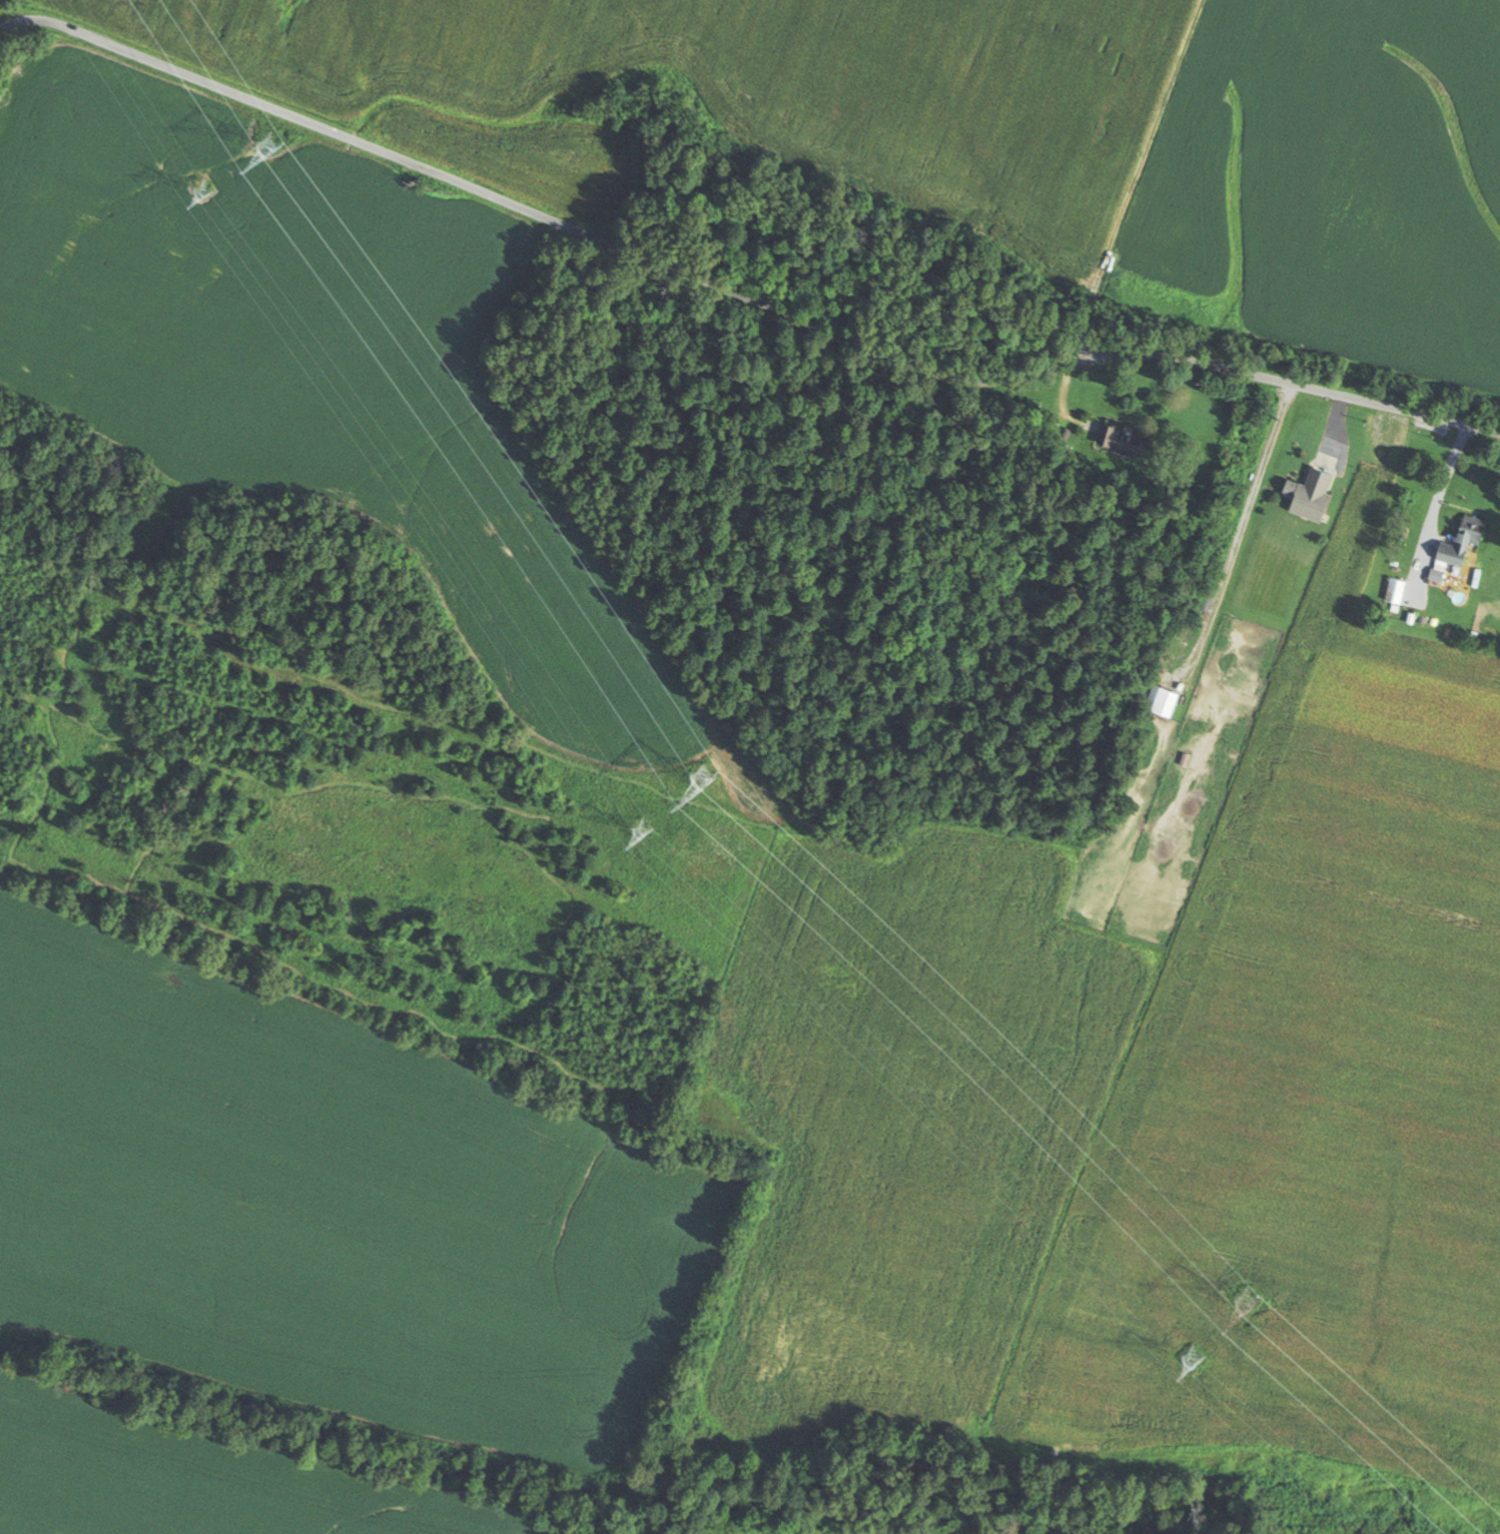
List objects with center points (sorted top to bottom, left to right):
power tower: (271, 145)
power tower: (205, 188)
road: (736, 291)
building: (1126, 437)
building: (1313, 492)
building: (1465, 540)
building: (1397, 589)
building: (1166, 701)
power tower: (704, 777)
power tower: (644, 827)
power tower: (1254, 1297)
power tower: (1196, 1356)

